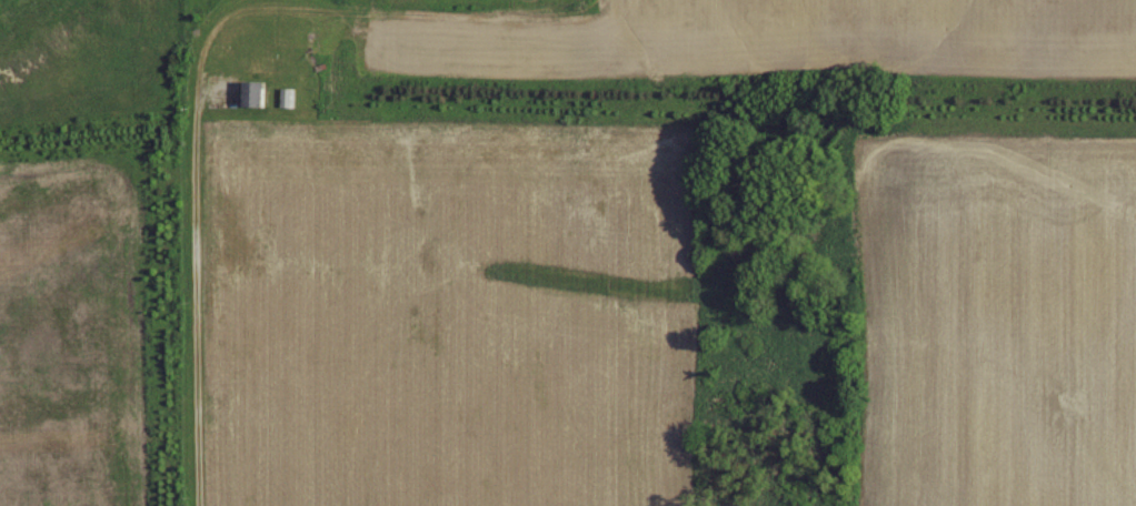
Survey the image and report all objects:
crop: (871, 30)
road: (196, 247)
crop: (446, 317)
crop: (998, 322)

